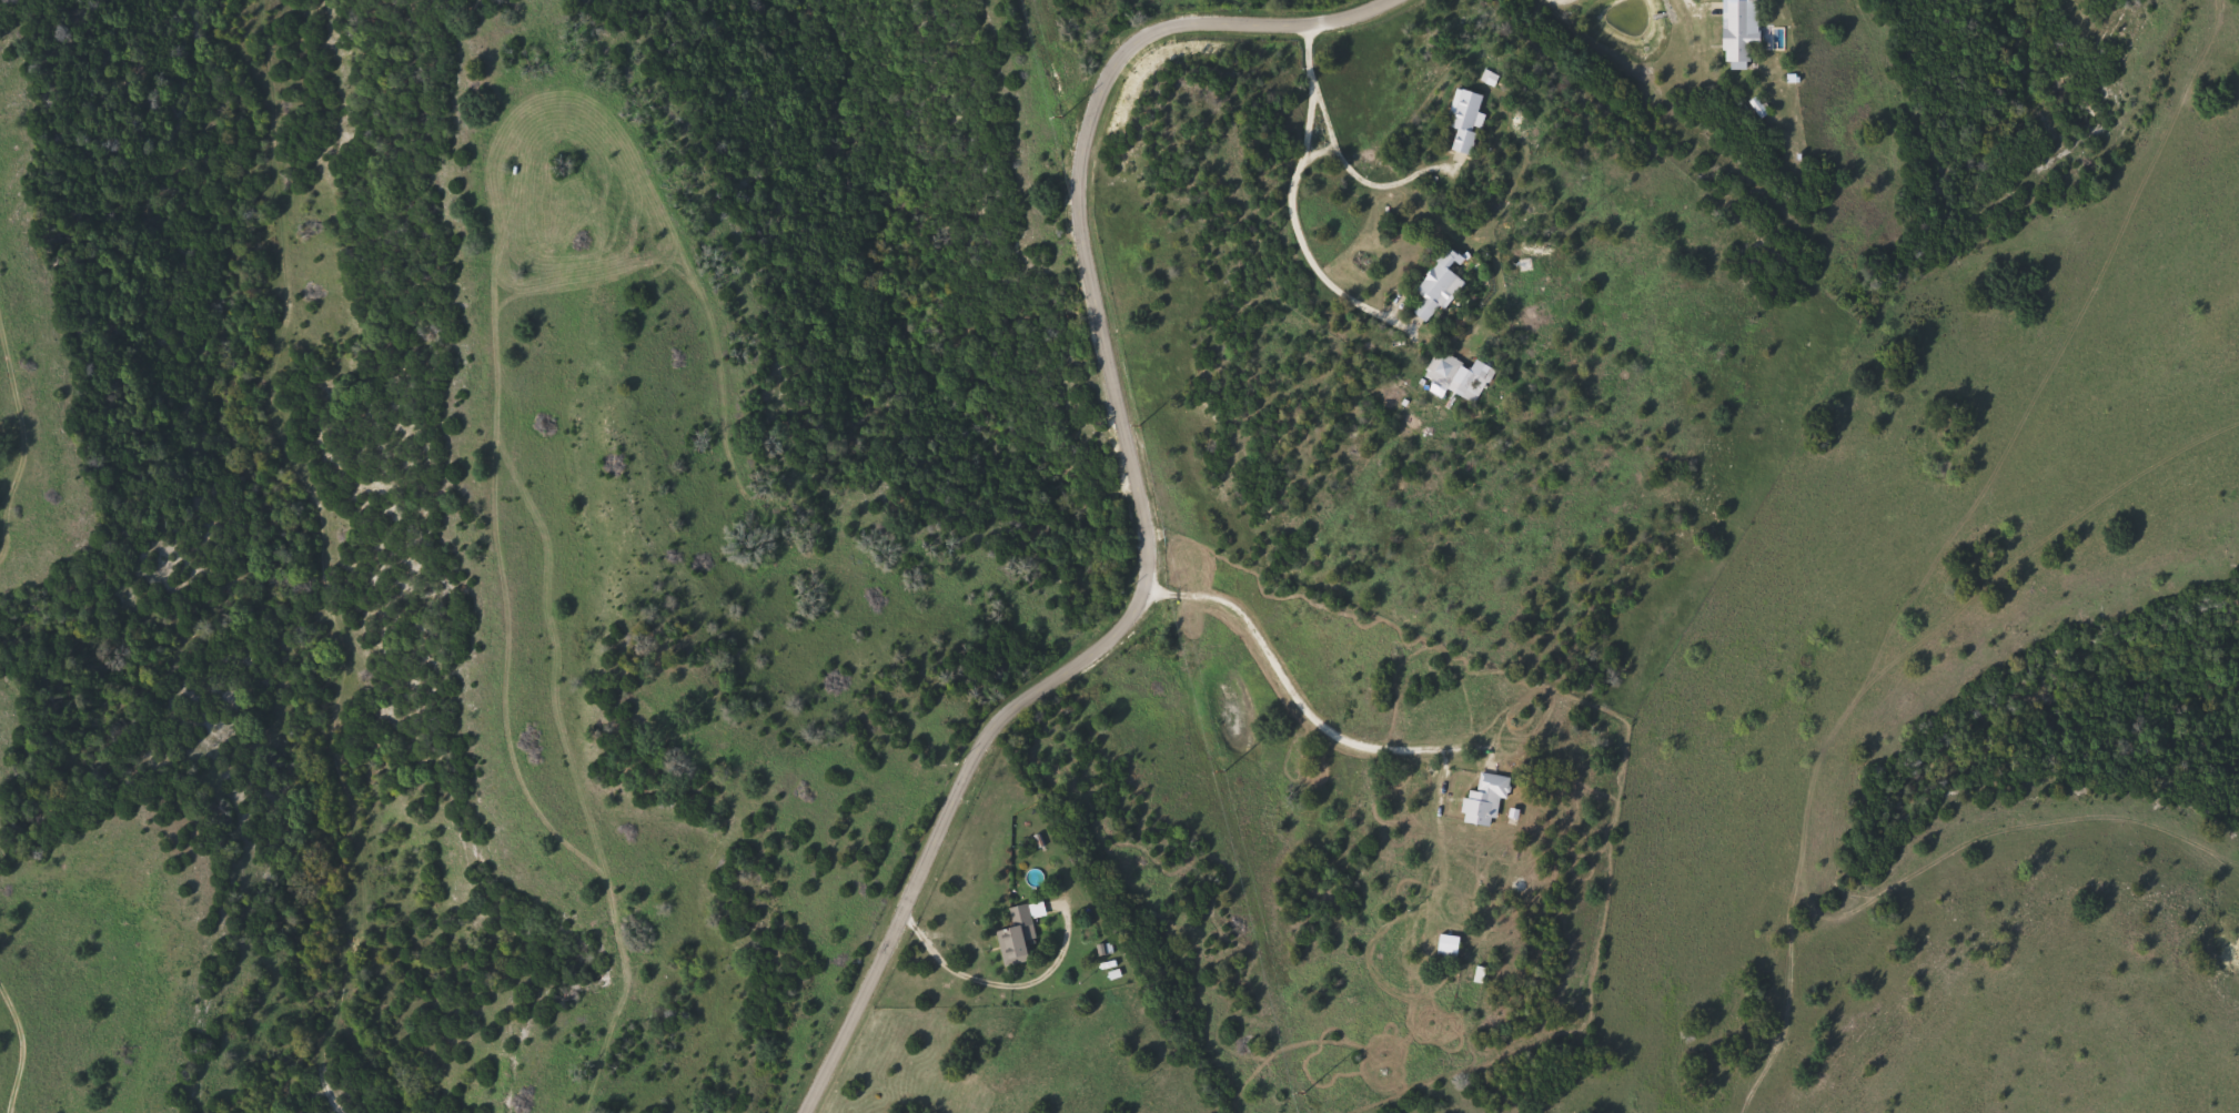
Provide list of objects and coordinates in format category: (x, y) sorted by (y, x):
building: (1742, 32)
building: (1466, 118)
road: (1356, 172)
road: (1293, 210)
building: (1439, 287)
building: (1454, 376)
road: (1136, 493)
road: (1301, 696)
building: (1485, 799)
building: (1020, 933)
building: (1450, 949)

